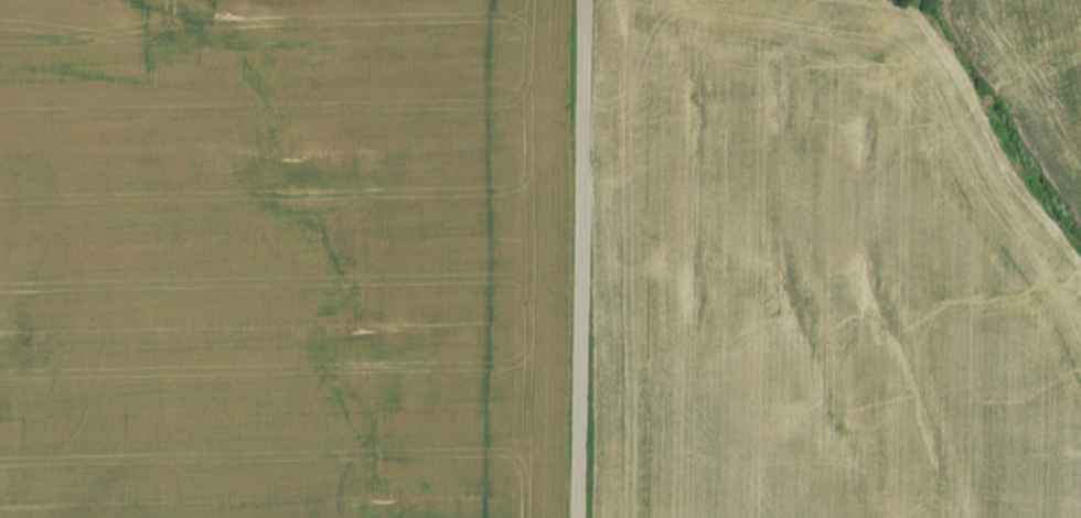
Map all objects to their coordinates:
road: (577, 259)

